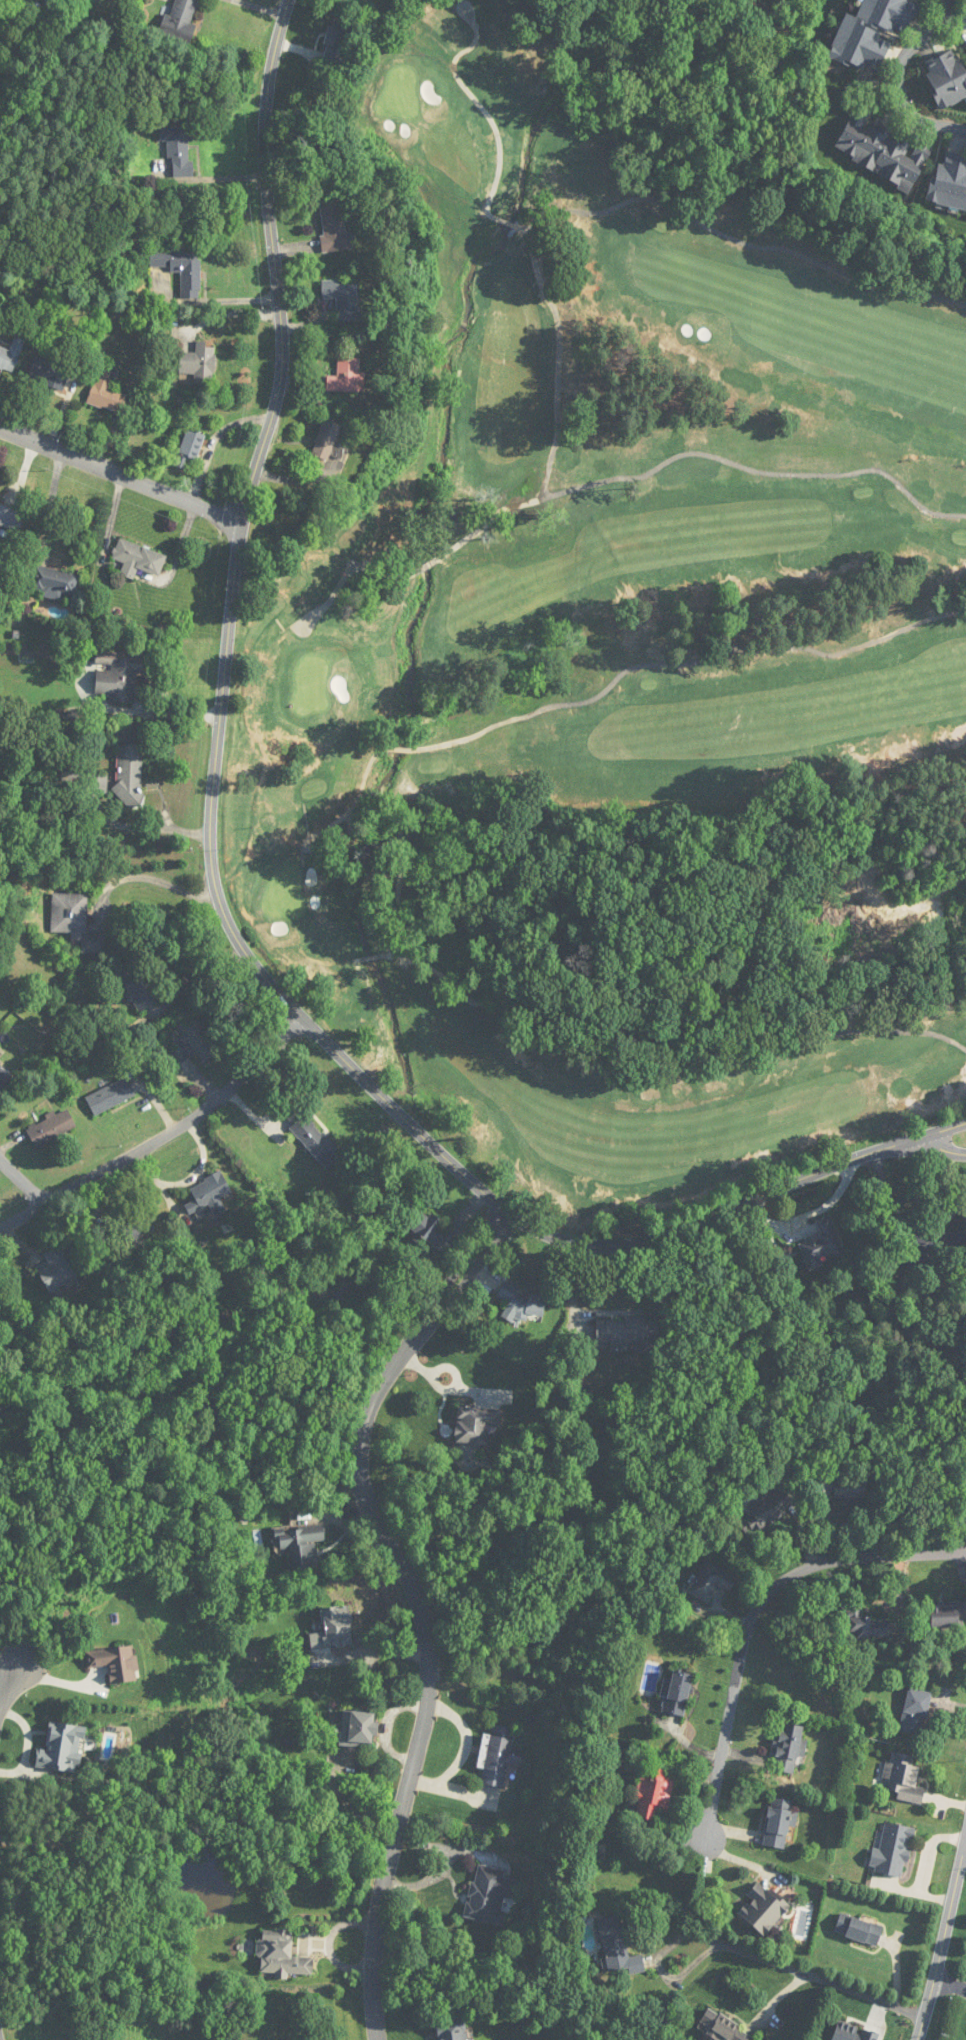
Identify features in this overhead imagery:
building: (181, 19)
building: (872, 32)
building: (337, 41)
building: (948, 76)
road: (900, 79)
building: (178, 149)
building: (881, 149)
building: (949, 182)
building: (333, 225)
building: (181, 270)
building: (343, 298)
building: (10, 356)
building: (198, 363)
building: (49, 371)
building: (347, 377)
building: (106, 392)
building: (325, 441)
building: (188, 450)
road: (120, 475)
road: (51, 501)
building: (138, 560)
building: (54, 581)
building: (119, 675)
park: (623, 684)
building: (129, 774)
building: (96, 783)
road: (155, 828)
road: (147, 876)
road: (221, 899)
building: (75, 921)
building: (136, 986)
building: (198, 1039)
building: (177, 1056)
building: (3, 1076)
building: (110, 1096)
building: (51, 1128)
building: (311, 1135)
road: (162, 1139)
road: (943, 1146)
road: (24, 1182)
building: (209, 1193)
building: (430, 1231)
building: (939, 1241)
building: (821, 1244)
building: (57, 1270)
building: (522, 1304)
building: (620, 1330)
building: (475, 1424)
building: (821, 1487)
building: (849, 1488)
building: (767, 1511)
building: (300, 1545)
building: (710, 1582)
road: (416, 1598)
road: (758, 1609)
building: (948, 1615)
building: (864, 1624)
building: (333, 1629)
road: (368, 1664)
road: (63, 1681)
road: (7, 1683)
building: (676, 1694)
building: (914, 1711)
building: (357, 1729)
building: (787, 1748)
building: (498, 1755)
building: (902, 1778)
building: (652, 1794)
building: (778, 1823)
road: (964, 1829)
building: (892, 1850)
building: (489, 1895)
building: (763, 1908)
building: (859, 1929)
road: (943, 1929)
building: (617, 1947)
building: (280, 1954)
road: (821, 1979)
road: (949, 1982)
building: (725, 2027)
building: (451, 2029)
building: (853, 2033)

